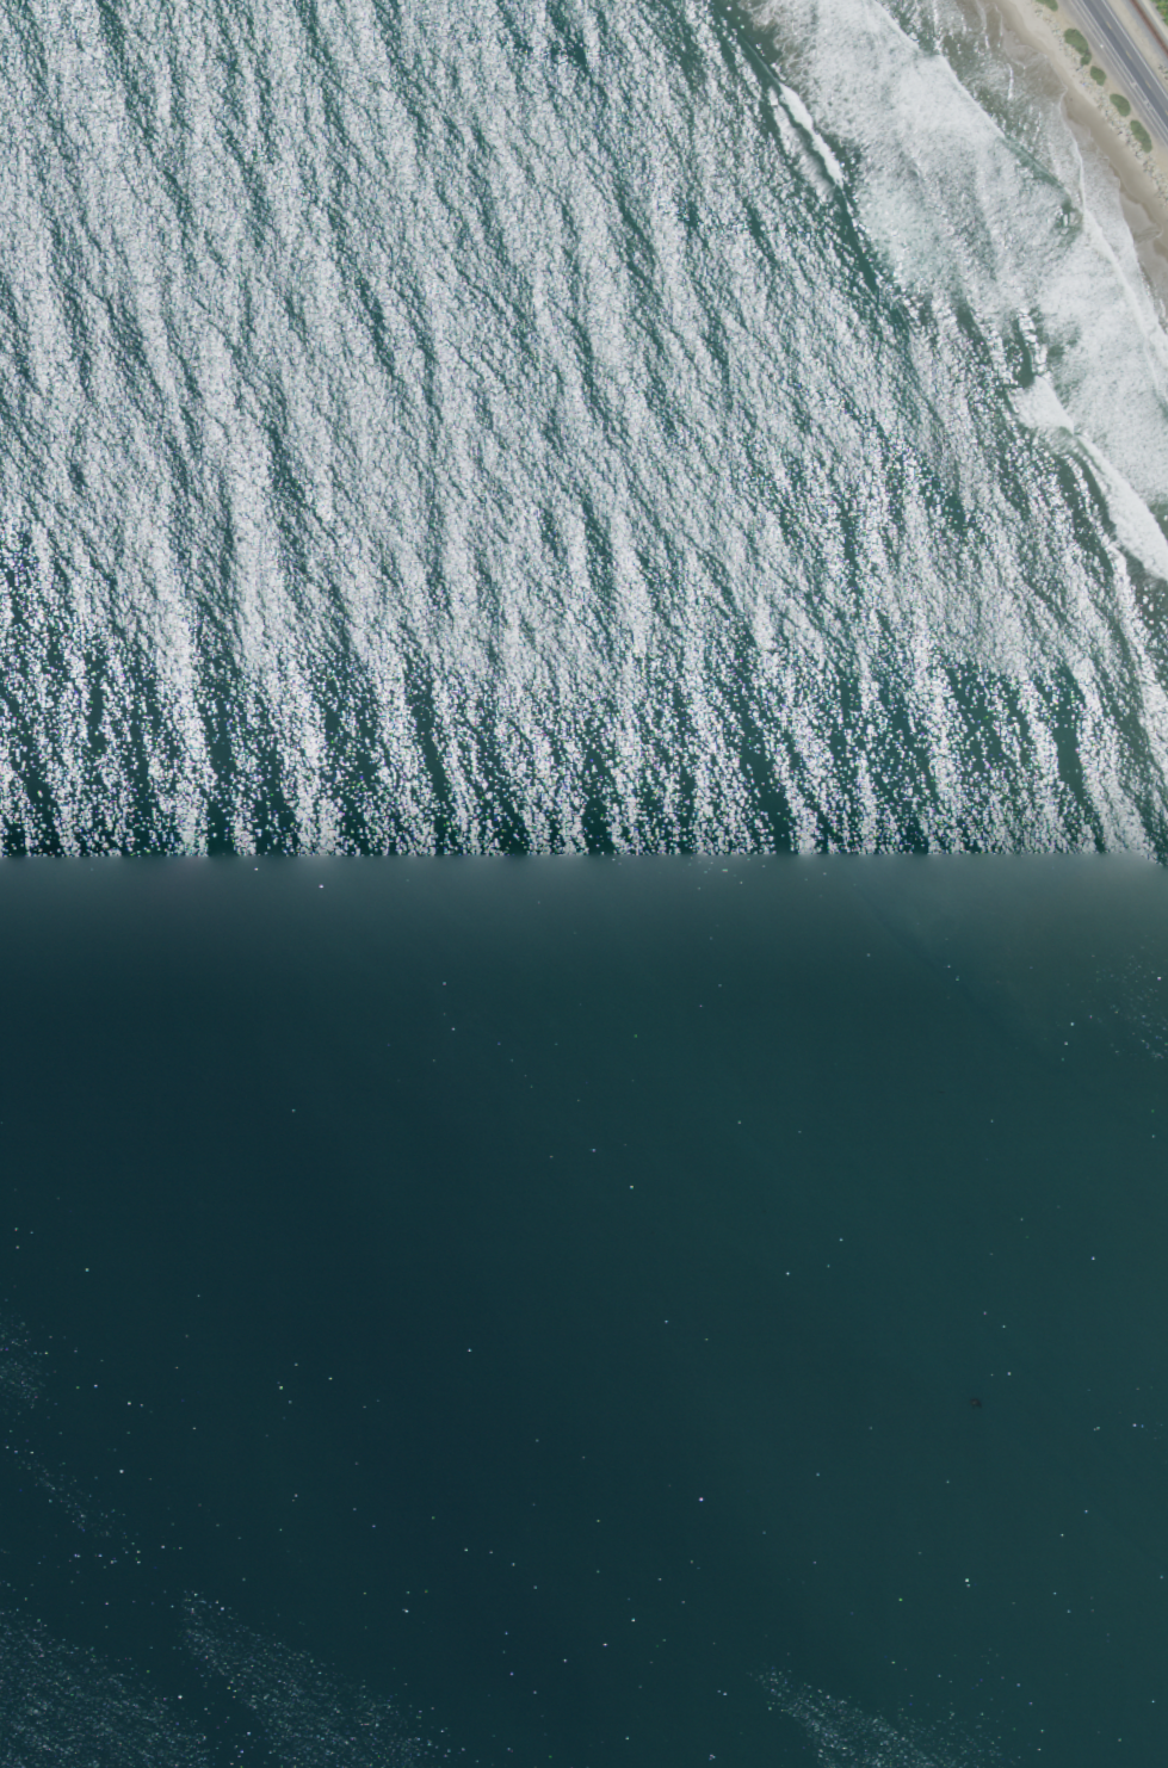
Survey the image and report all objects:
railway: (1149, 27)
road: (1127, 58)

